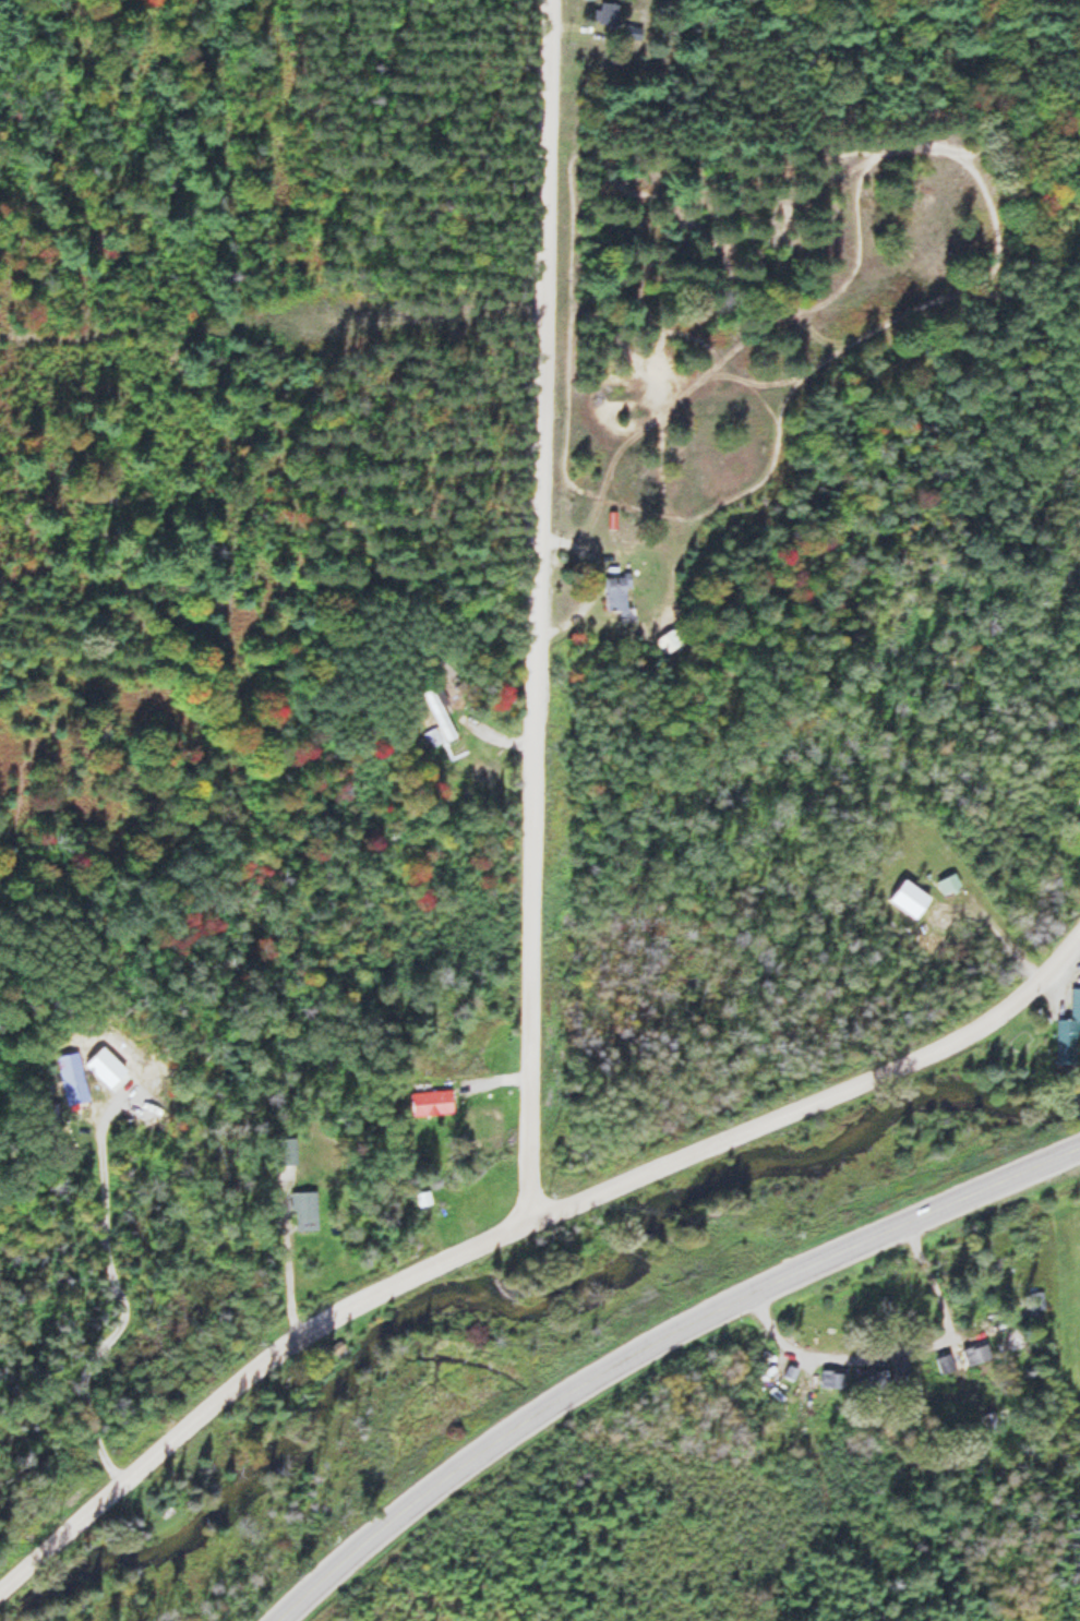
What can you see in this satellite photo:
building: (605, 14)
building: (617, 596)
road: (535, 610)
building: (670, 639)
building: (437, 719)
building: (946, 884)
building: (1068, 1032)
building: (72, 1081)
road: (491, 1081)
building: (430, 1102)
building: (286, 1153)
building: (302, 1209)
road: (516, 1225)
road: (285, 1254)
river: (532, 1301)
building: (1015, 1341)
road: (655, 1343)
building: (975, 1354)
building: (899, 1364)
building: (944, 1364)
building: (831, 1379)
building: (871, 1382)

